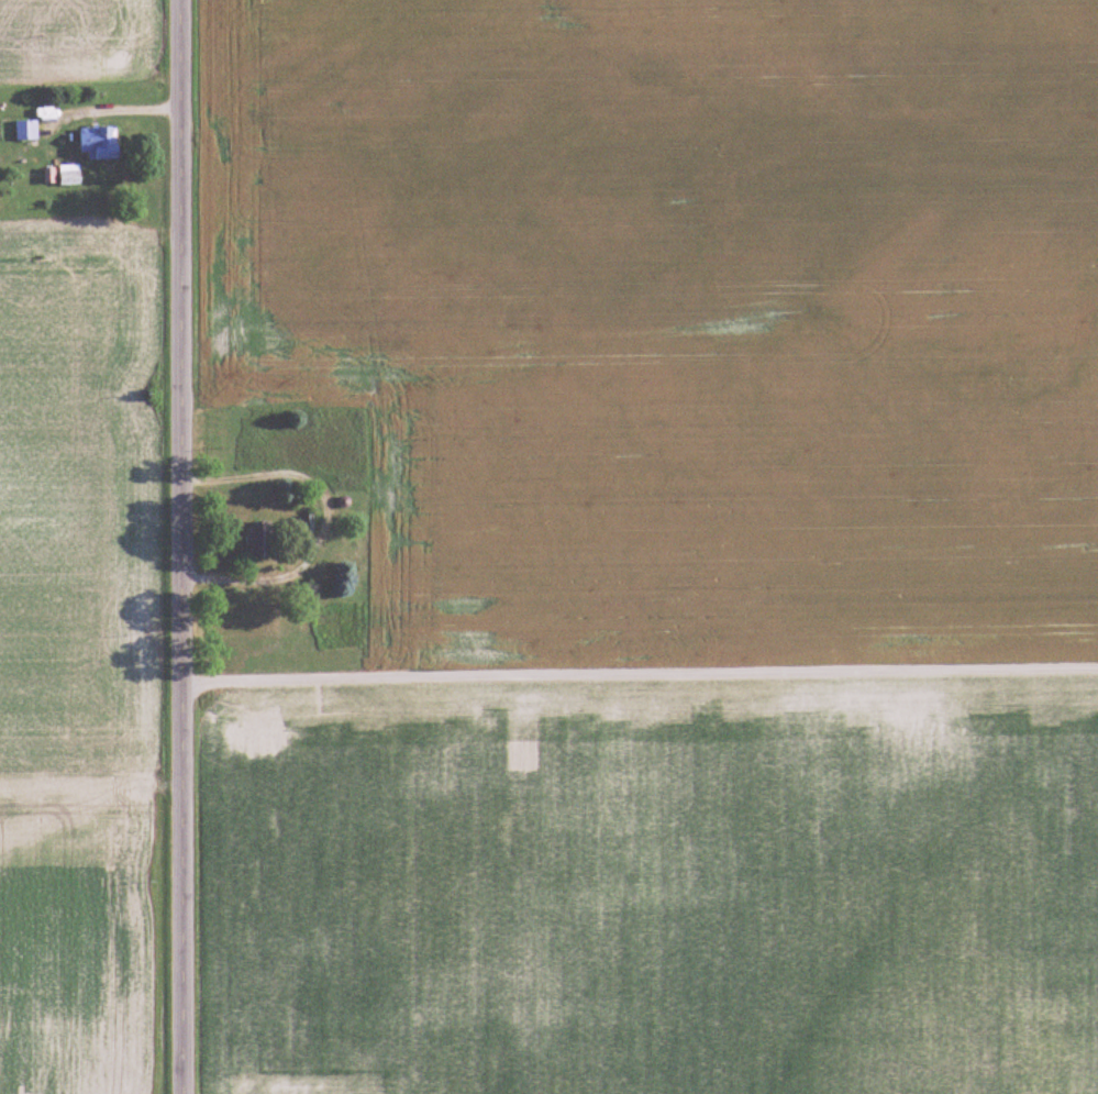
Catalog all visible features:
building: (26, 130)
building: (100, 143)
building: (70, 175)
building: (337, 444)
road: (331, 520)
building: (307, 524)
building: (259, 543)
road: (178, 546)
building: (329, 619)
road: (639, 665)

